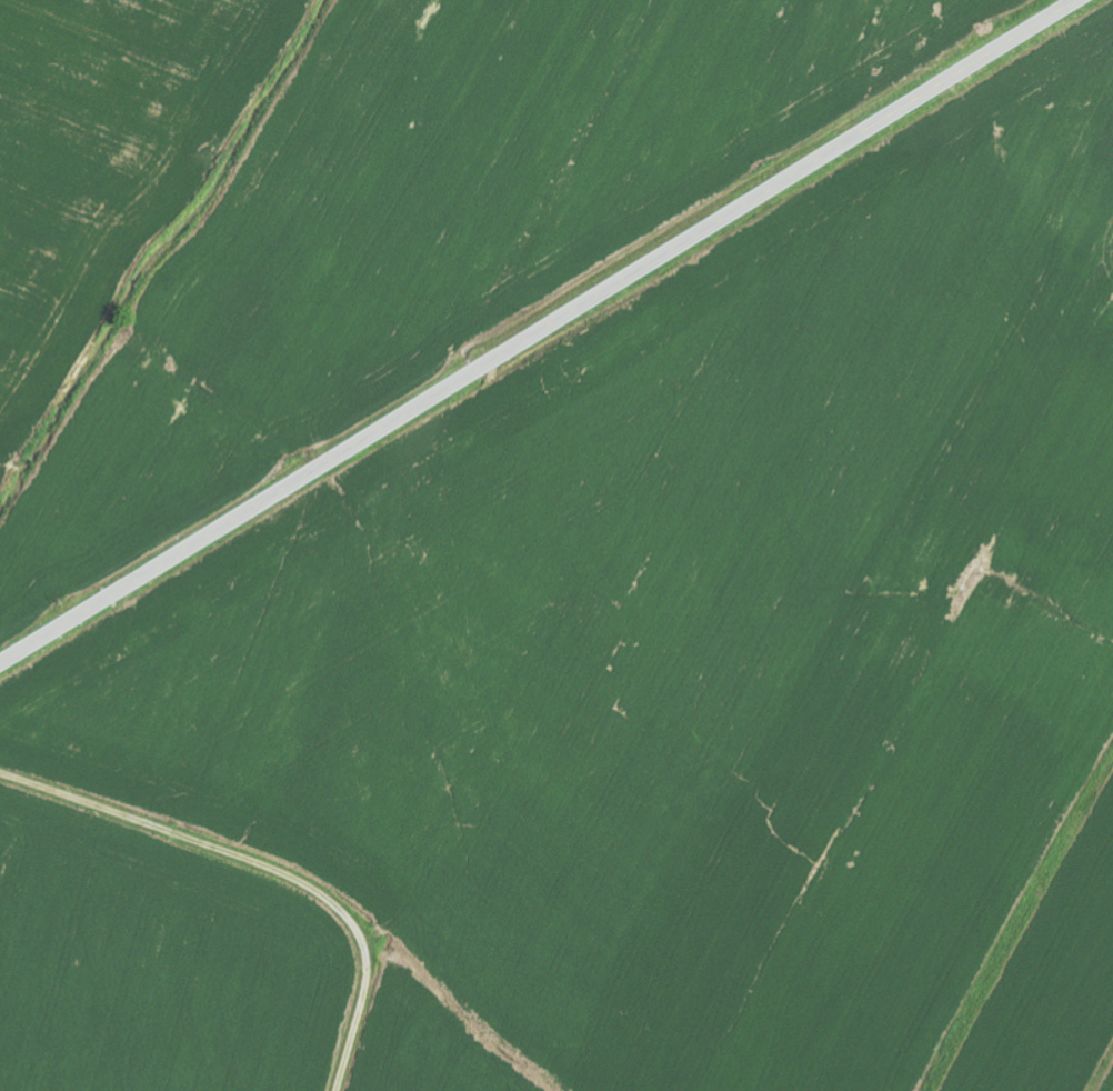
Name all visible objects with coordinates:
road: (539, 332)
road: (265, 865)

